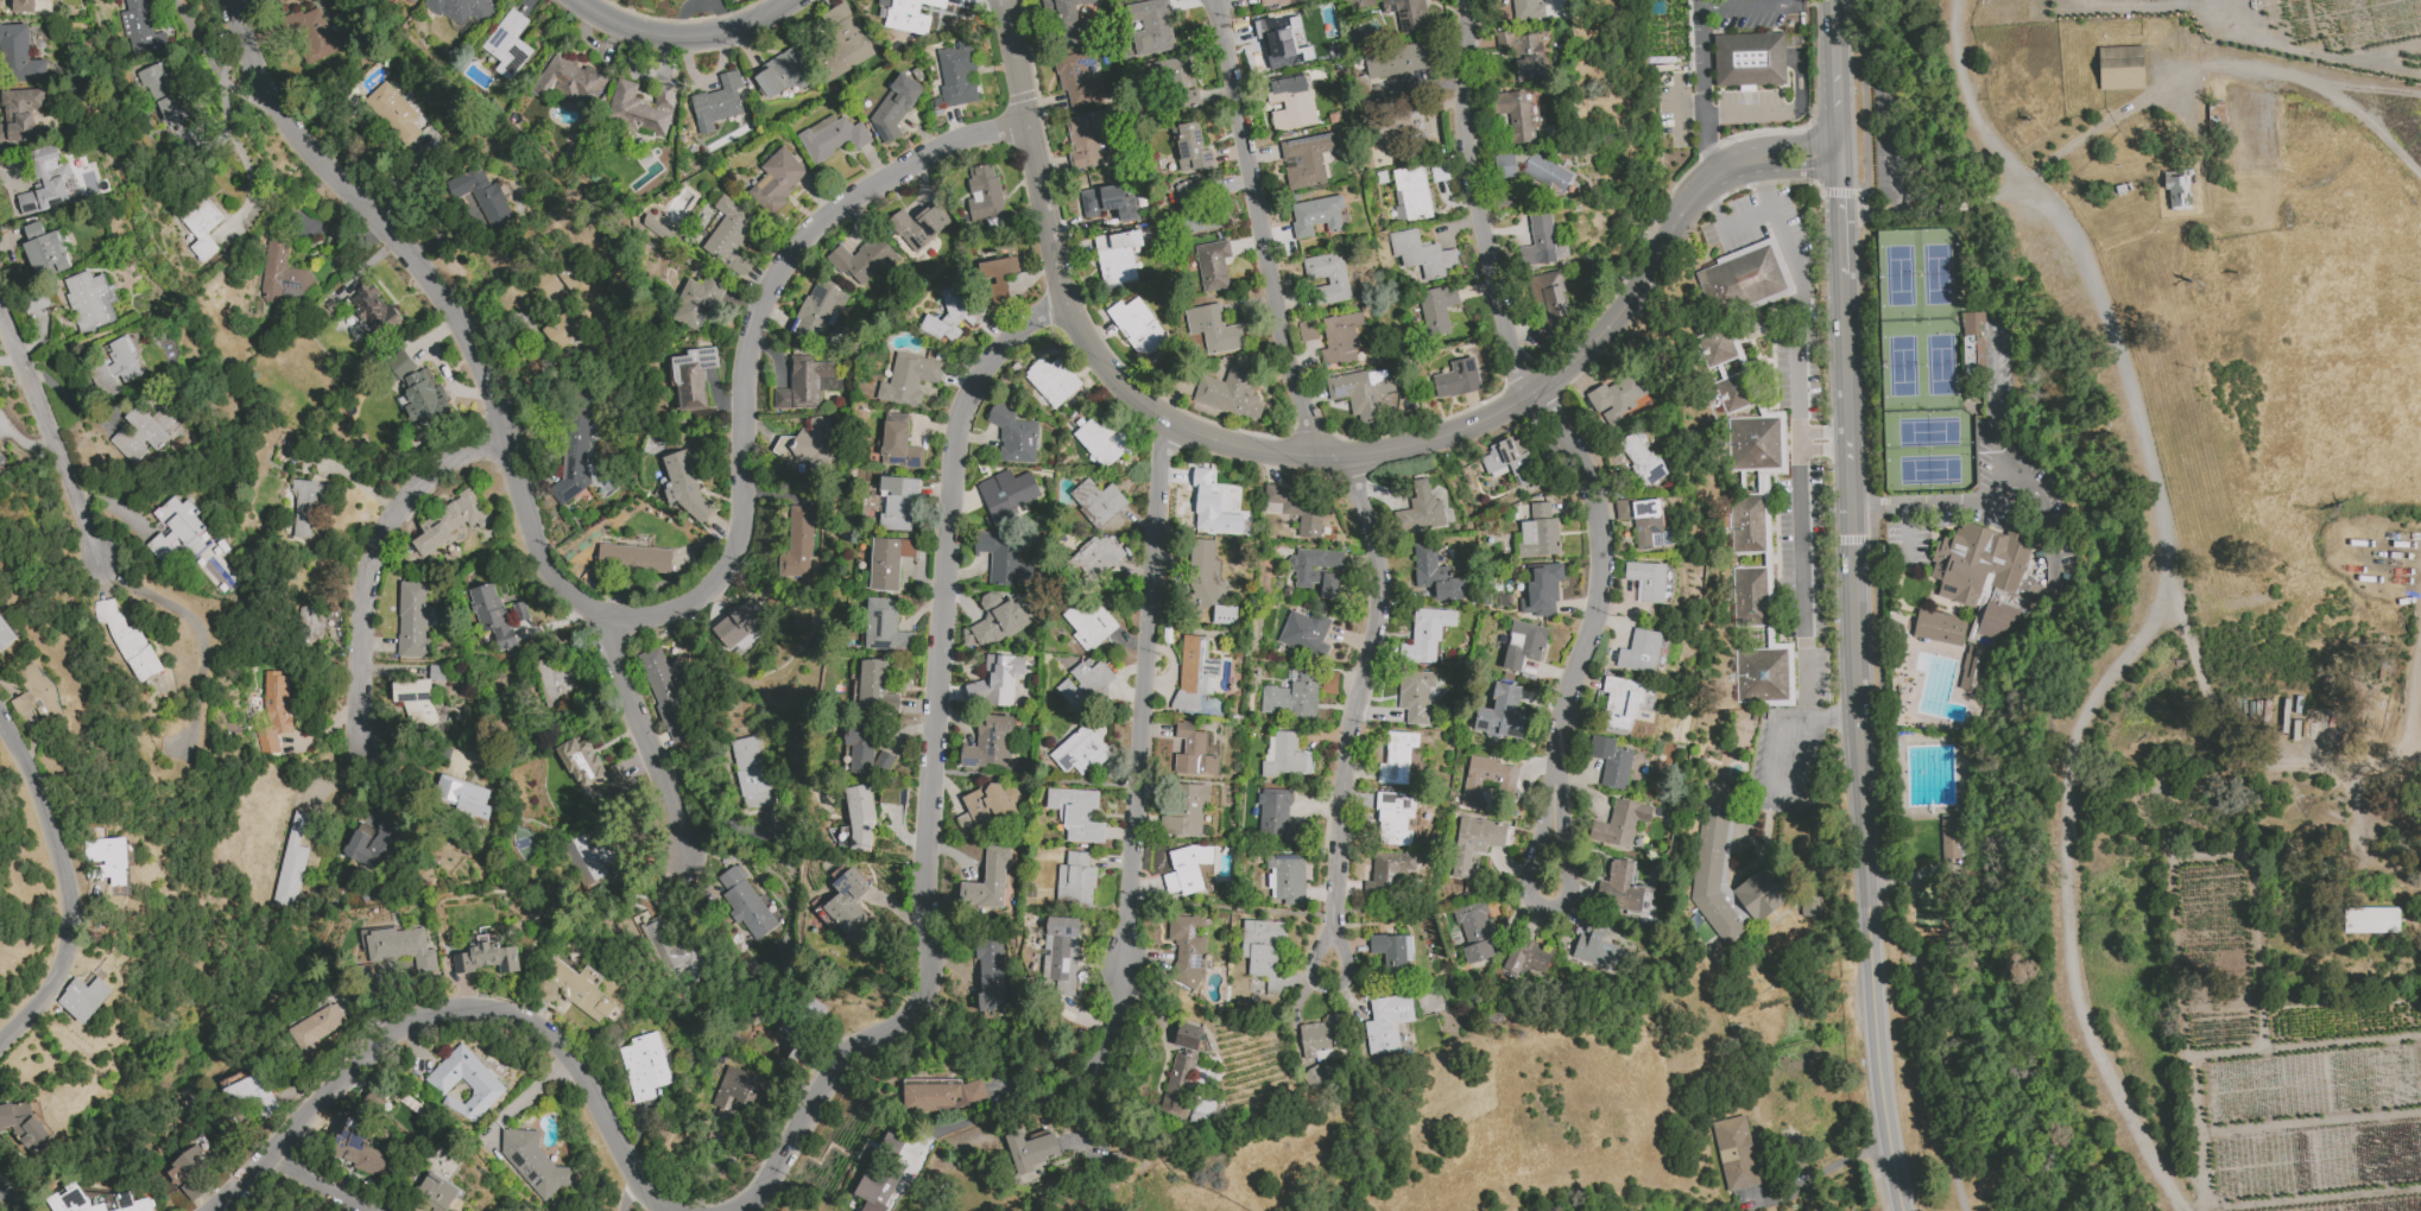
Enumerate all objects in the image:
building: (259, 0)
building: (411, 1)
building: (1273, 1)
building: (1361, 1)
road: (1793, 2)
road: (1001, 5)
building: (23, 6)
road: (1747, 6)
building: (461, 9)
building: (1528, 9)
building: (1407, 14)
building: (909, 15)
road: (1837, 21)
building: (1066, 23)
building: (140, 27)
building: (1151, 27)
building: (314, 34)
building: (1278, 34)
road: (683, 39)
road: (198, 43)
building: (508, 43)
building: (840, 43)
building: (1523, 53)
building: (19, 55)
building: (1750, 58)
building: (1395, 61)
road: (2223, 68)
building: (785, 71)
building: (2123, 71)
building: (957, 74)
building: (568, 78)
building: (1077, 78)
building: (1174, 80)
road: (1703, 94)
road: (1680, 95)
road: (1839, 95)
road: (1966, 96)
road: (246, 100)
road: (1681, 101)
building: (718, 102)
building: (1290, 102)
building: (170, 106)
building: (641, 106)
building: (893, 107)
building: (393, 112)
road: (1777, 112)
building: (1515, 114)
building: (19, 115)
building: (2218, 122)
building: (1397, 125)
road: (229, 128)
building: (830, 137)
building: (1086, 139)
road: (1890, 146)
building: (1190, 147)
road: (1787, 151)
building: (1306, 159)
road: (1841, 159)
building: (1503, 166)
road: (1727, 170)
building: (1545, 173)
road: (1781, 173)
building: (776, 180)
building: (45, 183)
road: (2003, 188)
building: (1193, 190)
road: (1853, 191)
building: (2124, 191)
building: (2181, 191)
building: (984, 192)
building: (1410, 192)
building: (483, 198)
road: (1472, 199)
road: (1968, 199)
building: (1108, 202)
road: (1896, 211)
building: (1316, 215)
building: (1200, 220)
road: (1744, 220)
road: (1842, 222)
building: (919, 224)
building: (201, 227)
building: (656, 228)
road: (1259, 229)
building: (731, 235)
building: (1538, 242)
building: (44, 251)
building: (1421, 254)
building: (1117, 256)
building: (861, 259)
building: (1212, 265)
building: (283, 274)
building: (560, 277)
building: (1327, 277)
building: (995, 279)
building: (1740, 280)
building: (1548, 298)
building: (88, 299)
building: (696, 300)
road: (1800, 302)
building: (1436, 309)
building: (373, 310)
building: (817, 313)
building: (953, 313)
building: (1137, 326)
building: (563, 328)
building: (1213, 328)
building: (1307, 330)
building: (1340, 338)
building: (399, 364)
building: (115, 366)
park: (1924, 367)
building: (690, 378)
building: (1456, 379)
building: (910, 380)
building: (1051, 380)
building: (805, 383)
building: (1364, 392)
building: (1733, 392)
building: (1230, 393)
building: (423, 397)
building: (1616, 398)
road: (72, 401)
road: (1823, 431)
building: (138, 435)
building: (1012, 435)
road: (49, 436)
building: (1101, 440)
building: (898, 443)
building: (807, 444)
building: (1755, 444)
building: (571, 445)
road: (1266, 449)
road: (1825, 449)
building: (2, 458)
building: (1641, 458)
building: (1507, 462)
road: (1875, 471)
road: (1999, 484)
road: (359, 486)
building: (684, 486)
building: (1006, 493)
building: (1098, 501)
building: (897, 502)
building: (306, 506)
building: (1210, 506)
building: (1295, 508)
building: (1422, 508)
building: (451, 521)
building: (1645, 522)
building: (1746, 524)
building: (1538, 532)
road: (2052, 533)
road: (1838, 539)
building: (192, 544)
building: (797, 544)
building: (633, 558)
building: (1092, 558)
building: (1003, 560)
building: (887, 562)
road: (1801, 562)
road: (371, 563)
building: (1320, 570)
building: (1435, 575)
building: (1980, 576)
building: (1206, 581)
building: (1650, 582)
building: (1541, 589)
road: (1595, 589)
building: (1749, 596)
road: (1857, 603)
building: (495, 615)
road: (611, 619)
building: (999, 619)
building: (317, 620)
building: (412, 621)
building: (1088, 621)
building: (738, 623)
road: (194, 624)
building: (885, 627)
building: (1938, 627)
building: (1304, 633)
building: (6, 634)
building: (1424, 635)
building: (127, 640)
building: (1523, 645)
building: (1639, 651)
building: (1972, 667)
building: (1194, 672)
building: (1761, 674)
building: (558, 678)
building: (995, 680)
building: (1086, 683)
road: (2107, 684)
building: (876, 689)
building: (34, 693)
building: (665, 695)
building: (1415, 695)
building: (1291, 696)
road: (1360, 697)
building: (415, 699)
building: (1619, 703)
building: (273, 711)
building: (1500, 714)
road: (644, 723)
road: (1831, 724)
road: (2409, 733)
building: (990, 742)
road: (2240, 746)
building: (1193, 750)
building: (1080, 752)
road: (1137, 752)
building: (866, 754)
building: (1285, 756)
building: (1396, 757)
building: (1611, 761)
road: (931, 765)
building: (592, 766)
building: (748, 766)
parking lot: (1787, 768)
building: (1486, 780)
building: (463, 797)
building: (986, 804)
building: (1187, 812)
building: (1076, 813)
building: (862, 816)
building: (1276, 817)
building: (1393, 818)
building: (1619, 823)
road: (898, 833)
building: (1949, 836)
building: (1474, 842)
building: (374, 843)
road: (802, 848)
road: (953, 855)
building: (106, 860)
building: (291, 862)
building: (1713, 866)
building: (1187, 869)
building: (1386, 873)
building: (1285, 877)
building: (987, 880)
building: (1075, 881)
road: (62, 885)
building: (1619, 887)
building: (1758, 893)
building: (745, 904)
road: (1545, 909)
building: (853, 912)
building: (2372, 922)
building: (1474, 931)
building: (399, 946)
building: (1187, 949)
building: (1597, 949)
building: (670, 950)
building: (1264, 951)
building: (1393, 951)
building: (1060, 956)
building: (486, 957)
building: (1526, 958)
road: (949, 960)
building: (990, 974)
road: (1328, 987)
building: (576, 990)
building: (83, 997)
building: (2414, 1006)
road: (492, 1009)
building: (801, 1020)
building: (1386, 1022)
building: (316, 1026)
building: (1317, 1036)
crop: (2195, 1039)
road: (1954, 1048)
building: (644, 1066)
building: (1180, 1070)
road: (1880, 1072)
building: (1314, 1076)
road: (1927, 1077)
building: (483, 1084)
building: (740, 1092)
building: (252, 1095)
building: (941, 1095)
building: (1201, 1111)
road: (997, 1114)
building: (24, 1126)
building: (358, 1150)
building: (1030, 1150)
building: (1734, 1153)
building: (1799, 1159)
building: (532, 1162)
building: (187, 1165)
road: (1825, 1171)
building: (880, 1174)
building: (436, 1178)
road: (316, 1184)
road: (244, 1185)
road: (627, 1191)
building: (96, 1200)
road: (6, 1202)
road: (1896, 1207)

